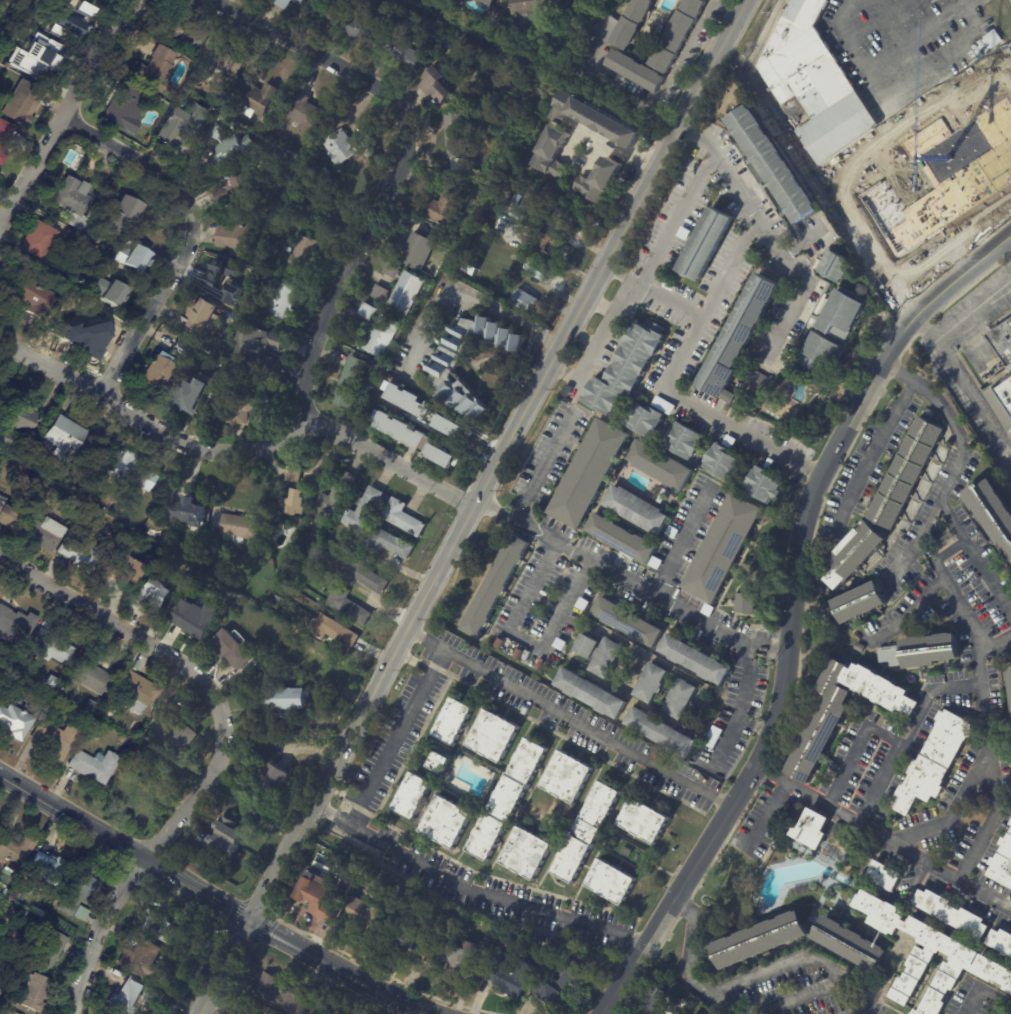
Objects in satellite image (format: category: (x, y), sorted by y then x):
building: (0, 0)
building: (299, 1)
building: (283, 3)
building: (488, 3)
road: (958, 3)
road: (965, 3)
road: (730, 6)
building: (530, 7)
building: (326, 12)
building: (70, 17)
building: (0, 22)
building: (635, 23)
building: (362, 29)
building: (184, 30)
building: (2, 34)
building: (681, 35)
road: (912, 38)
building: (991, 39)
building: (443, 45)
road: (685, 53)
road: (753, 53)
building: (35, 55)
building: (408, 55)
building: (220, 60)
road: (1003, 68)
building: (158, 70)
building: (638, 70)
road: (1006, 75)
building: (439, 86)
road: (635, 97)
building: (259, 98)
road: (949, 102)
building: (24, 103)
building: (126, 106)
road: (67, 113)
building: (307, 113)
building: (596, 119)
building: (185, 123)
road: (900, 124)
building: (461, 129)
building: (844, 134)
building: (4, 138)
building: (348, 145)
building: (234, 146)
road: (619, 149)
building: (553, 152)
building: (771, 164)
road: (398, 169)
building: (324, 171)
building: (603, 183)
building: (238, 190)
building: (73, 202)
building: (533, 206)
building: (444, 209)
building: (119, 216)
building: (566, 217)
building: (475, 232)
building: (683, 233)
road: (192, 235)
building: (520, 238)
building: (241, 239)
building: (40, 240)
building: (449, 240)
building: (550, 243)
road: (802, 243)
building: (705, 244)
road: (1007, 247)
building: (415, 250)
building: (303, 255)
building: (136, 257)
building: (833, 266)
road: (649, 268)
building: (393, 270)
building: (541, 270)
road: (622, 274)
building: (274, 279)
building: (228, 281)
road: (800, 290)
building: (112, 292)
building: (380, 293)
building: (408, 293)
building: (35, 299)
road: (476, 300)
building: (525, 300)
road: (671, 301)
building: (282, 302)
building: (369, 311)
building: (838, 314)
building: (206, 319)
road: (960, 319)
road: (698, 327)
building: (357, 335)
building: (384, 335)
building: (736, 338)
building: (168, 342)
building: (1002, 342)
building: (259, 347)
building: (819, 353)
building: (626, 367)
building: (446, 369)
building: (157, 371)
road: (565, 375)
building: (355, 382)
building: (759, 382)
building: (567, 390)
building: (196, 395)
building: (1, 398)
road: (972, 398)
building: (1001, 398)
building: (410, 400)
building: (664, 405)
building: (245, 409)
building: (416, 416)
building: (266, 418)
building: (25, 420)
building: (644, 420)
building: (453, 430)
building: (403, 431)
building: (66, 438)
building: (682, 439)
building: (11, 441)
building: (729, 441)
road: (875, 449)
road: (232, 451)
building: (442, 454)
building: (721, 462)
building: (769, 463)
building: (658, 464)
road: (544, 466)
building: (132, 470)
building: (908, 472)
building: (587, 473)
building: (295, 475)
building: (762, 485)
building: (341, 497)
building: (660, 497)
building: (298, 504)
building: (36, 506)
road: (474, 507)
building: (188, 509)
building: (634, 509)
building: (994, 509)
building: (370, 511)
building: (9, 518)
building: (409, 519)
building: (245, 528)
building: (672, 531)
building: (43, 535)
building: (619, 538)
road: (684, 539)
building: (949, 540)
building: (219, 543)
building: (395, 545)
building: (722, 548)
building: (855, 553)
road: (978, 553)
building: (81, 554)
building: (654, 562)
road: (907, 563)
building: (336, 566)
building: (120, 571)
building: (368, 578)
road: (630, 579)
building: (494, 585)
building: (285, 592)
building: (156, 595)
building: (862, 602)
building: (581, 603)
building: (746, 603)
building: (352, 606)
building: (706, 609)
road: (792, 612)
road: (910, 613)
building: (197, 619)
building: (625, 621)
building: (15, 626)
building: (336, 631)
building: (297, 636)
road: (527, 641)
building: (559, 643)
building: (586, 645)
building: (51, 647)
road: (999, 648)
building: (862, 649)
building: (237, 651)
building: (926, 651)
road: (985, 651)
building: (286, 655)
building: (606, 656)
building: (314, 658)
building: (694, 659)
building: (262, 662)
road: (438, 662)
road: (192, 670)
building: (91, 671)
building: (15, 679)
building: (51, 681)
building: (652, 682)
building: (592, 693)
building: (142, 694)
building: (681, 698)
building: (288, 702)
road: (740, 704)
building: (846, 711)
road: (570, 718)
building: (14, 720)
building: (453, 720)
road: (756, 724)
building: (662, 731)
building: (175, 734)
building: (494, 734)
building: (713, 736)
road: (398, 737)
building: (56, 738)
building: (125, 741)
road: (858, 747)
building: (139, 749)
building: (941, 760)
building: (439, 761)
building: (95, 765)
building: (569, 777)
building: (278, 783)
building: (140, 791)
building: (412, 795)
building: (507, 799)
road: (964, 806)
road: (358, 815)
road: (764, 817)
building: (644, 820)
building: (447, 821)
building: (812, 827)
building: (586, 832)
building: (228, 838)
road: (126, 847)
building: (15, 850)
building: (627, 850)
building: (527, 852)
building: (827, 855)
road: (977, 860)
building: (1003, 864)
building: (48, 870)
building: (886, 876)
building: (610, 881)
building: (79, 890)
building: (802, 890)
building: (3, 892)
road: (474, 892)
road: (988, 894)
building: (17, 896)
building: (9, 897)
building: (321, 899)
building: (954, 914)
building: (373, 916)
building: (163, 929)
road: (271, 930)
road: (97, 931)
building: (548, 939)
building: (416, 940)
building: (1001, 940)
building: (50, 948)
building: (872, 948)
building: (462, 955)
building: (27, 959)
road: (805, 961)
building: (146, 962)
road: (691, 964)
building: (511, 973)
road: (363, 978)
building: (561, 986)
road: (984, 988)
building: (34, 992)
building: (284, 995)
road: (806, 996)
building: (131, 997)
building: (648, 1001)
building: (8, 1012)
building: (15, 1013)
building: (110, 1013)
road: (1010, 1013)

